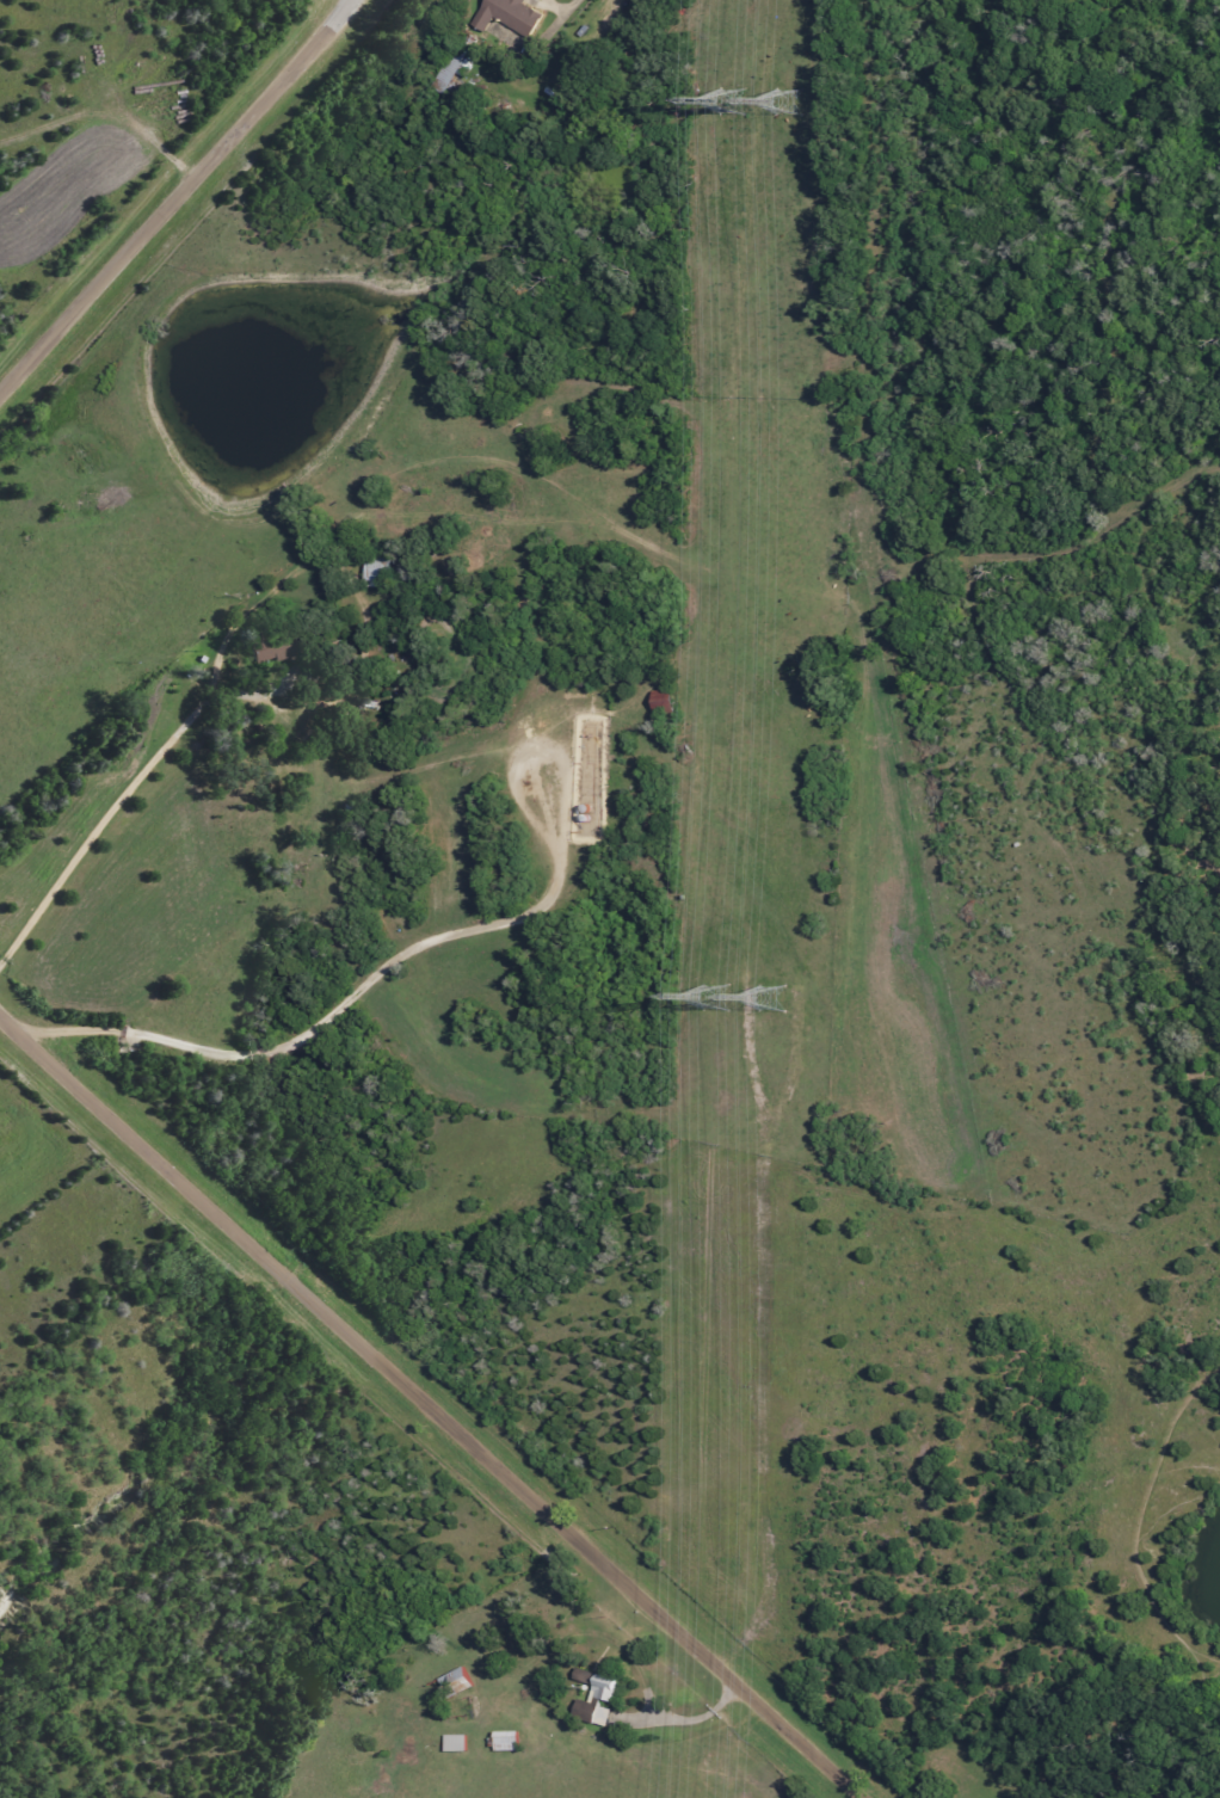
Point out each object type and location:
building: (500, 16)
building: (449, 68)
power tower: (719, 98)
power tower: (778, 105)
road: (173, 195)
building: (371, 572)
building: (653, 703)
power tower: (762, 999)
power tower: (711, 1000)
road: (431, 1404)
building: (446, 1685)
building: (589, 1702)
building: (497, 1742)
building: (446, 1744)

